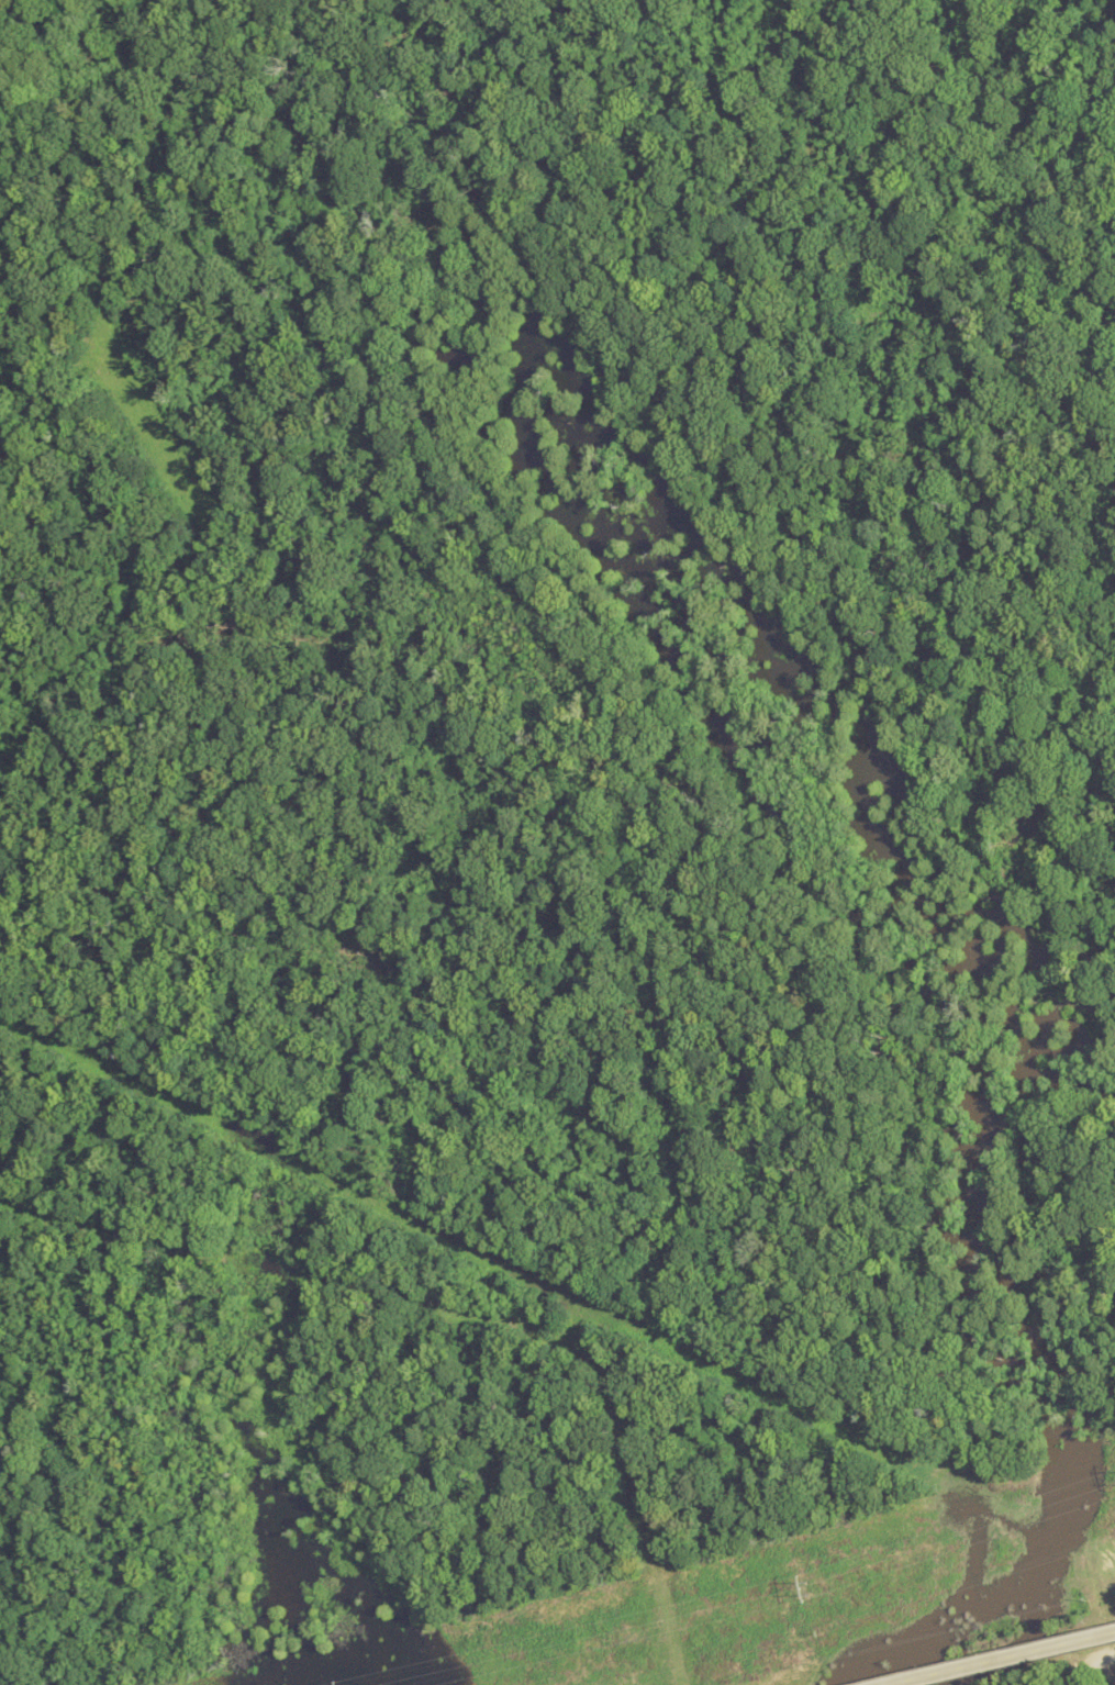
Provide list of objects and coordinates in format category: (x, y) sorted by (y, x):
power tower: (806, 1587)
road: (1003, 1659)
road: (1096, 1667)

